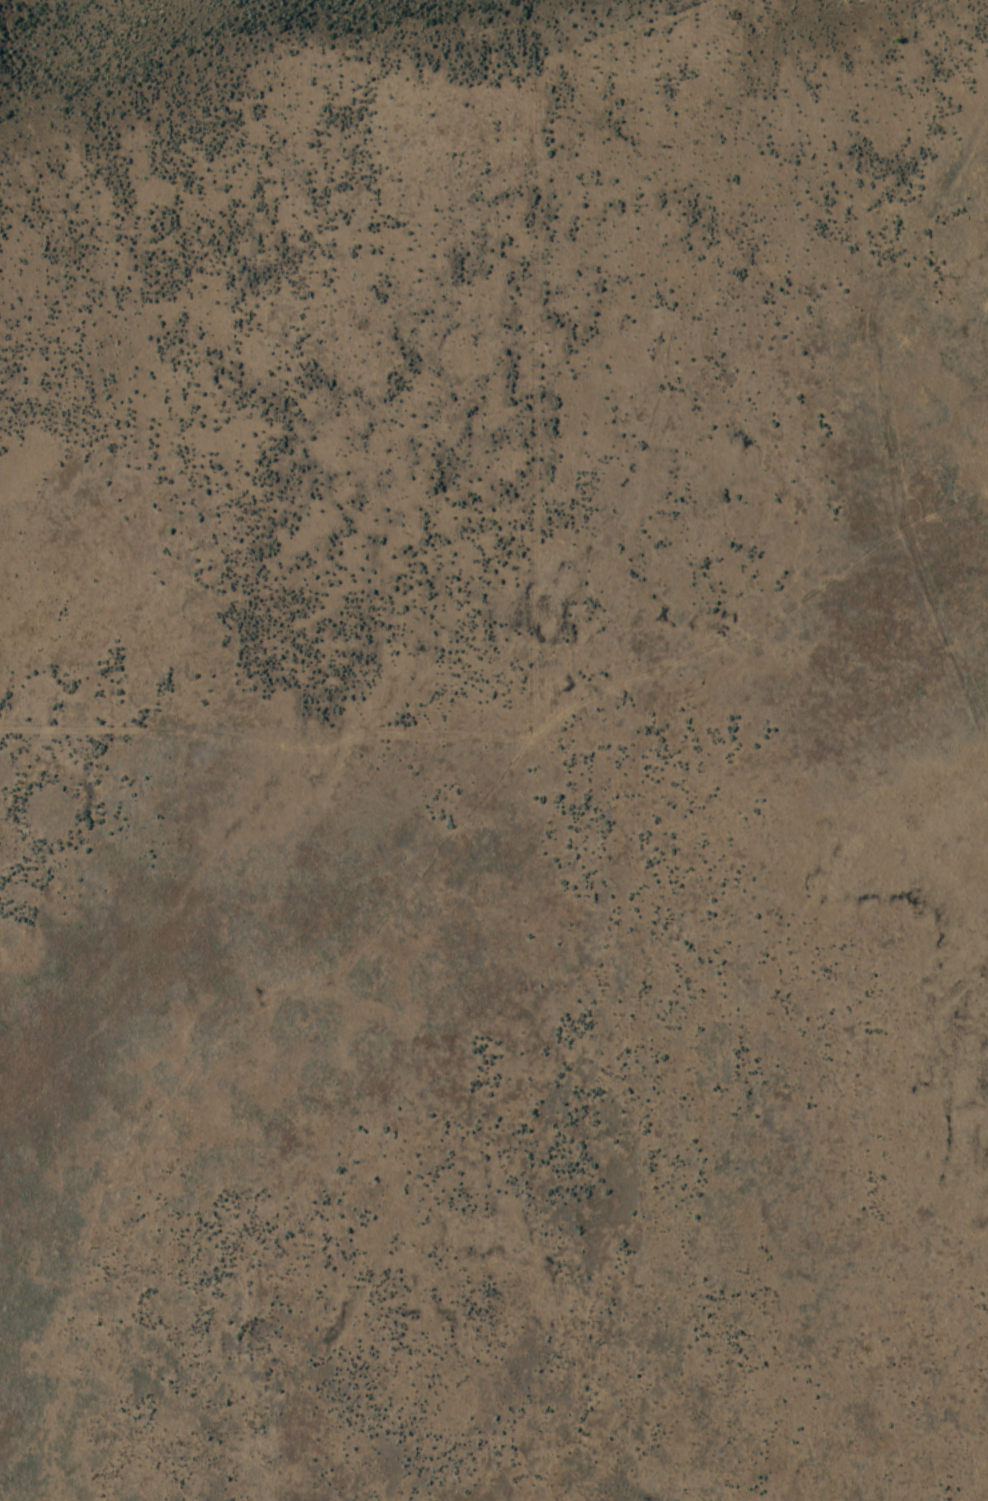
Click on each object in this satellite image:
road: (541, 578)

